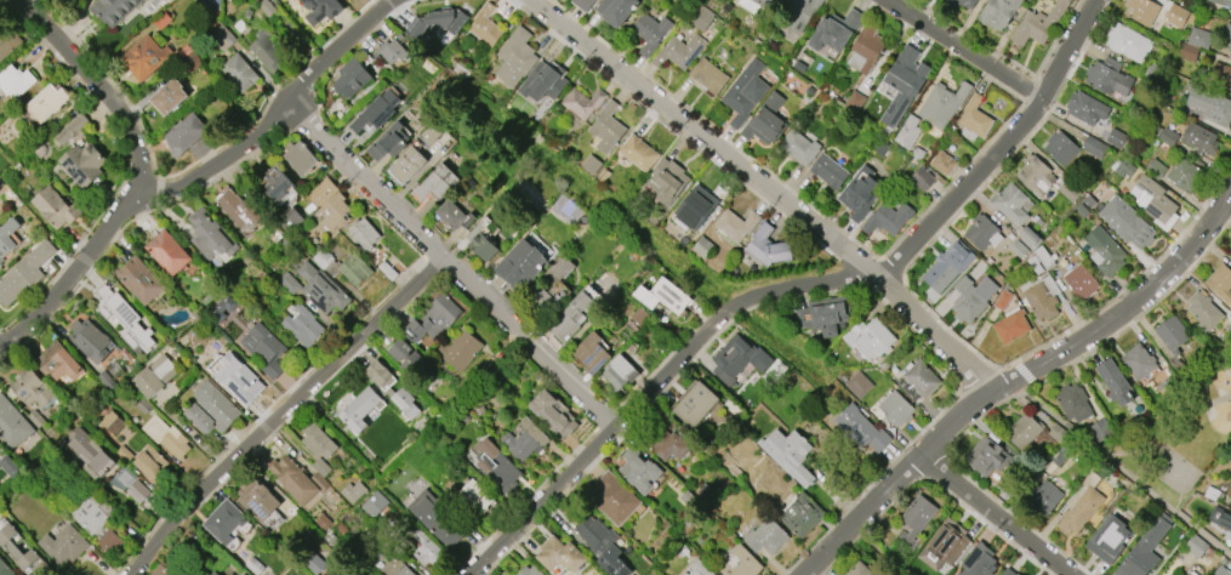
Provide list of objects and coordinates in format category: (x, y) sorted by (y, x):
building: (1203, 0)
building: (763, 1)
building: (1223, 1)
road: (5, 4)
building: (582, 4)
building: (951, 5)
building: (113, 10)
building: (321, 10)
building: (615, 11)
building: (1141, 11)
building: (997, 12)
building: (1230, 13)
building: (796, 15)
building: (1176, 16)
building: (432, 22)
building: (1038, 23)
building: (485, 25)
building: (834, 29)
building: (1227, 30)
building: (650, 32)
building: (7, 40)
building: (1195, 41)
building: (1128, 42)
building: (1229, 45)
building: (865, 49)
building: (264, 50)
building: (392, 51)
building: (678, 51)
road: (964, 53)
building: (144, 57)
building: (515, 57)
building: (239, 72)
building: (708, 75)
building: (1220, 75)
building: (1107, 76)
building: (351, 78)
building: (16, 80)
building: (542, 81)
building: (904, 84)
road: (103, 87)
building: (745, 92)
building: (172, 97)
building: (50, 102)
building: (581, 103)
building: (942, 103)
building: (1209, 104)
building: (1087, 108)
building: (376, 113)
road: (275, 116)
building: (975, 116)
building: (765, 120)
building: (606, 127)
building: (70, 129)
building: (907, 132)
building: (1168, 136)
building: (188, 137)
building: (1201, 140)
building: (386, 142)
building: (798, 147)
building: (1093, 147)
building: (1059, 148)
building: (638, 152)
building: (300, 158)
building: (82, 163)
building: (942, 163)
building: (591, 164)
building: (408, 165)
building: (1156, 169)
building: (827, 171)
building: (1035, 175)
building: (1184, 176)
building: (922, 180)
building: (666, 181)
building: (277, 182)
building: (435, 183)
road: (774, 188)
building: (1067, 190)
building: (321, 192)
building: (861, 192)
building: (1152, 199)
building: (1009, 204)
building: (55, 207)
building: (695, 207)
building: (239, 209)
building: (334, 211)
building: (452, 215)
building: (888, 217)
building: (290, 220)
building: (1125, 223)
building: (735, 224)
building: (981, 233)
building: (363, 234)
building: (209, 237)
building: (7, 238)
building: (1027, 238)
building: (480, 243)
building: (768, 246)
building: (1016, 249)
building: (1102, 251)
building: (167, 252)
building: (1230, 254)
building: (1230, 256)
building: (520, 264)
building: (946, 266)
building: (342, 267)
road: (454, 268)
road: (70, 272)
building: (24, 273)
building: (141, 280)
building: (1079, 281)
building: (1220, 281)
building: (1039, 285)
building: (320, 289)
road: (803, 289)
building: (663, 296)
building: (970, 298)
building: (116, 308)
building: (1203, 311)
building: (823, 314)
building: (572, 315)
building: (433, 318)
building: (302, 325)
building: (1009, 325)
building: (1170, 334)
building: (868, 338)
building: (89, 340)
building: (264, 348)
building: (458, 349)
building: (591, 353)
building: (404, 355)
building: (737, 359)
building: (1138, 361)
building: (57, 363)
building: (619, 372)
building: (380, 375)
building: (154, 376)
road: (1014, 378)
building: (918, 381)
building: (243, 382)
building: (1113, 382)
building: (857, 385)
building: (30, 387)
building: (1073, 403)
building: (405, 404)
building: (696, 404)
building: (216, 405)
building: (360, 408)
building: (896, 408)
road: (278, 410)
building: (553, 414)
park: (1187, 421)
building: (113, 422)
building: (12, 425)
building: (861, 429)
building: (1022, 431)
building: (165, 437)
building: (525, 440)
building: (319, 442)
building: (668, 444)
building: (90, 452)
building: (788, 454)
building: (986, 457)
building: (152, 463)
building: (497, 467)
park: (1170, 469)
building: (639, 471)
road: (1117, 471)
building: (297, 479)
building: (133, 486)
building: (353, 491)
building: (1049, 494)
building: (477, 495)
building: (1229, 495)
building: (614, 499)
building: (257, 500)
building: (375, 505)
building: (1082, 505)
road: (993, 514)
building: (802, 516)
building: (437, 518)
building: (223, 519)
building: (914, 520)
building: (1223, 520)
building: (97, 523)
building: (766, 536)
building: (1106, 539)
building: (63, 545)
building: (603, 545)
building: (944, 545)
building: (1196, 546)
building: (16, 547)
building: (426, 548)
building: (1142, 550)
building: (560, 554)
building: (978, 560)
building: (741, 563)
building: (394, 568)
building: (699, 568)
building: (5, 569)
building: (161, 569)
building: (530, 570)
building: (859, 570)
building: (226, 571)
building: (1008, 571)
building: (1221, 571)
building: (213, 573)
building: (244, 574)
building: (1186, 574)

